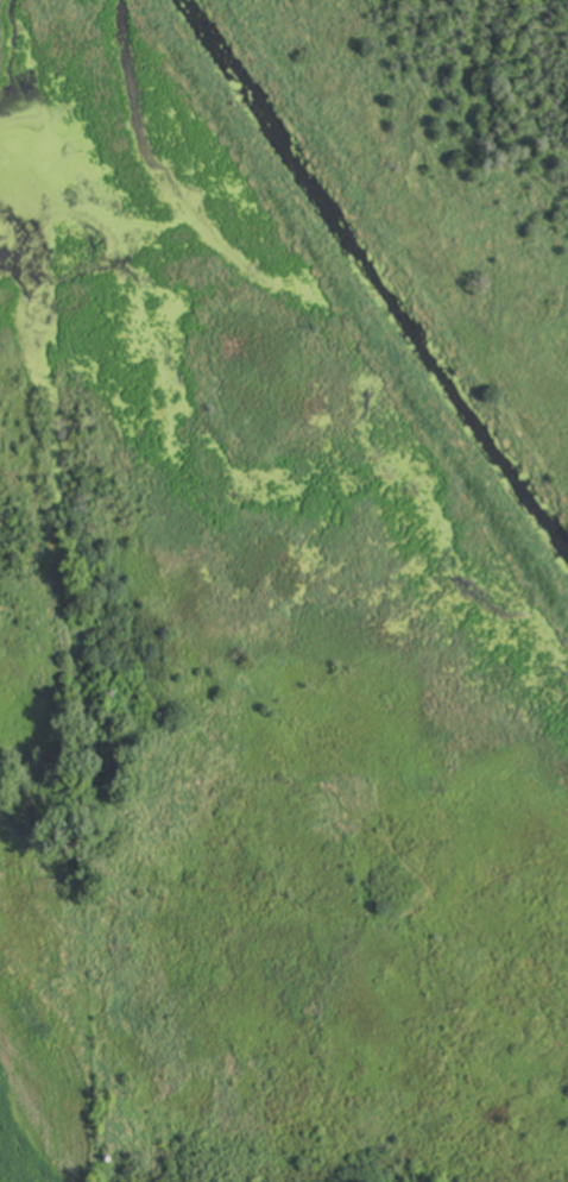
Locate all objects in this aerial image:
river: (372, 282)

